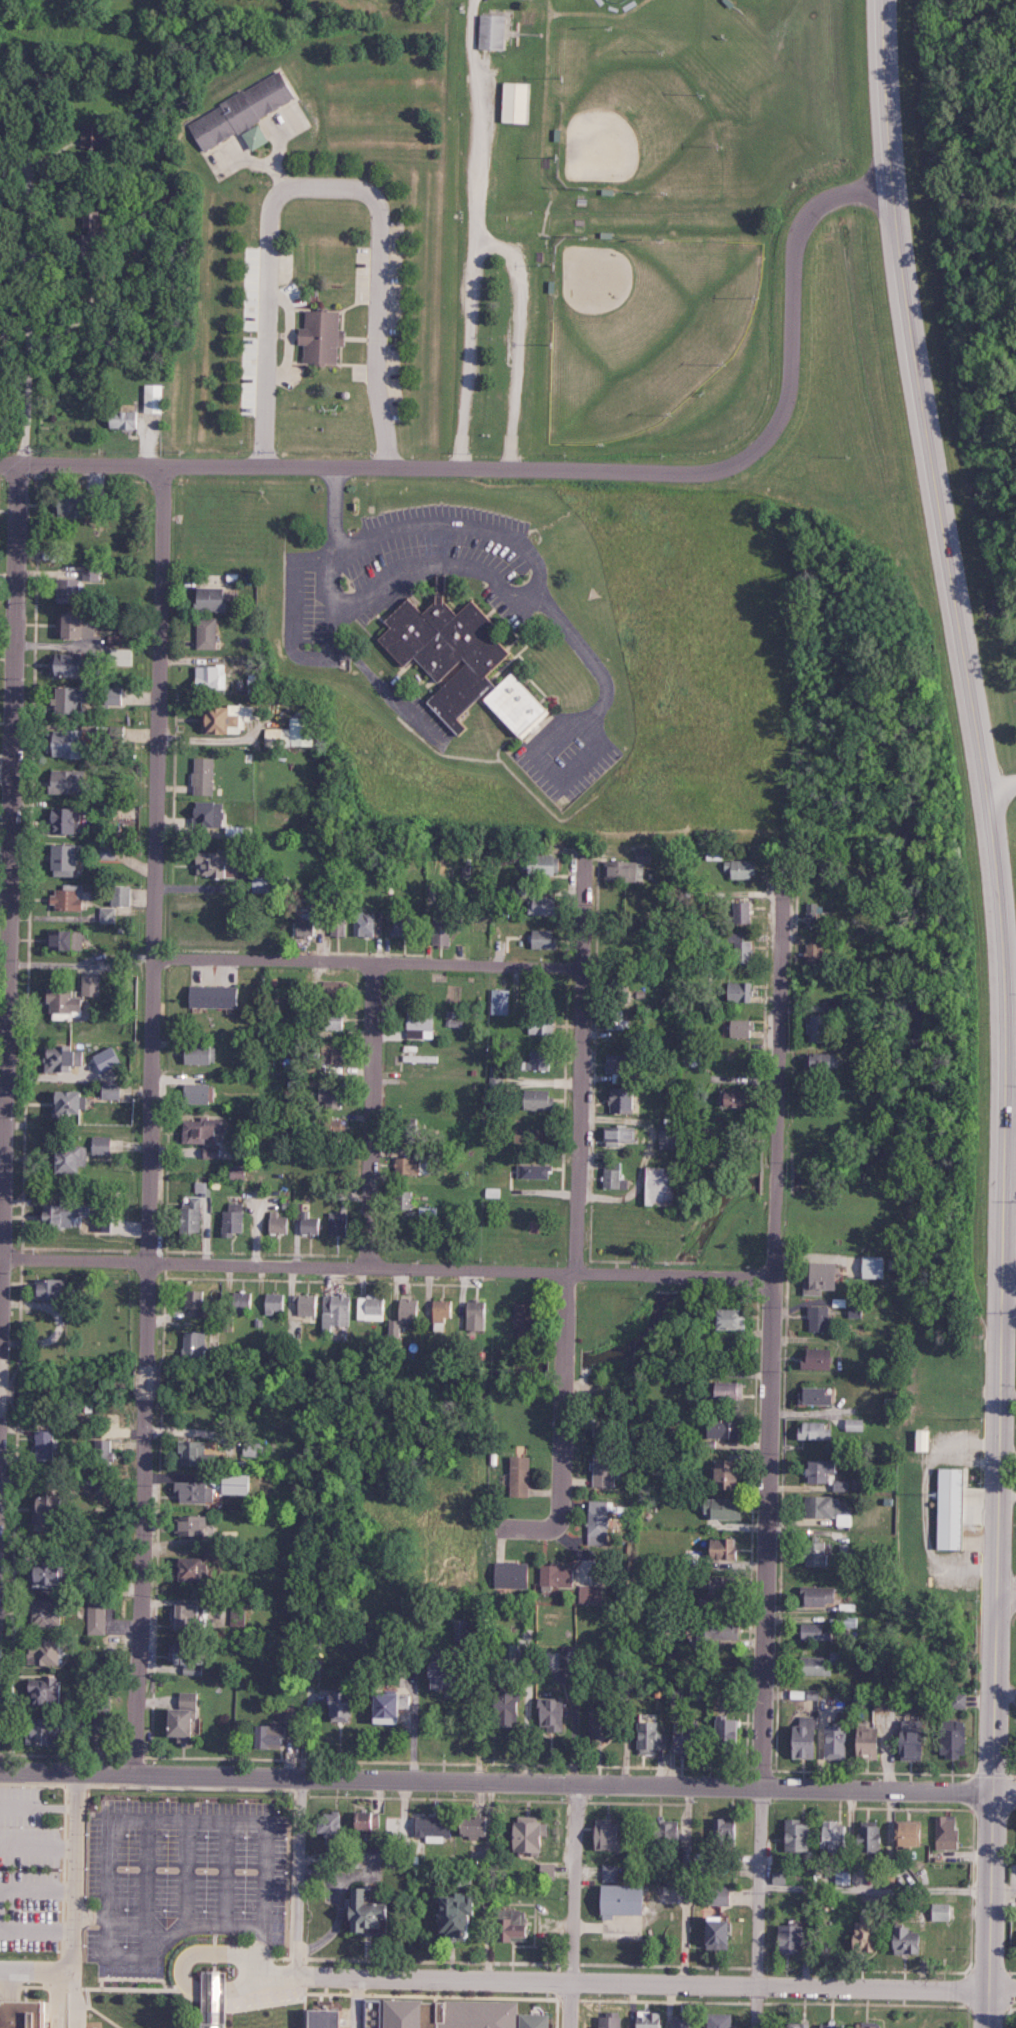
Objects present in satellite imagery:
parking lot: (504, 1)
park: (612, 2)
road: (592, 9)
park: (763, 12)
road: (526, 27)
building: (489, 32)
building: (511, 102)
building: (243, 114)
park: (629, 118)
road: (539, 132)
building: (96, 135)
road: (324, 186)
park: (610, 210)
building: (93, 221)
road: (546, 231)
road: (473, 234)
parking lot: (467, 256)
park: (641, 322)
road: (516, 334)
building: (327, 336)
parking lot: (514, 354)
road: (23, 398)
building: (154, 398)
building: (125, 420)
road: (550, 471)
building: (84, 504)
building: (93, 574)
building: (70, 590)
road: (541, 596)
building: (217, 598)
building: (80, 624)
building: (209, 633)
building: (116, 639)
building: (452, 652)
building: (70, 664)
building: (214, 677)
building: (115, 695)
building: (73, 698)
building: (522, 704)
building: (231, 718)
building: (295, 733)
building: (67, 742)
road: (6, 769)
building: (206, 775)
building: (70, 782)
road: (1001, 789)
building: (211, 814)
building: (63, 820)
building: (107, 852)
building: (69, 860)
road: (11, 861)
building: (213, 863)
building: (549, 865)
building: (627, 869)
building: (739, 869)
building: (267, 884)
building: (123, 895)
building: (70, 897)
building: (546, 905)
building: (738, 912)
building: (109, 914)
building: (811, 915)
building: (441, 917)
road: (558, 917)
building: (366, 924)
building: (310, 925)
building: (339, 927)
building: (404, 927)
building: (67, 939)
building: (546, 939)
building: (739, 951)
building: (811, 952)
road: (355, 961)
building: (93, 985)
building: (621, 985)
building: (736, 991)
building: (216, 996)
building: (66, 1001)
building: (503, 1001)
building: (833, 1006)
road: (1008, 1009)
building: (335, 1020)
building: (617, 1020)
building: (423, 1024)
building: (541, 1024)
building: (736, 1028)
building: (813, 1028)
building: (200, 1054)
building: (336, 1054)
building: (65, 1058)
building: (110, 1059)
building: (540, 1059)
building: (818, 1061)
building: (620, 1067)
building: (497, 1078)
building: (114, 1090)
building: (198, 1093)
building: (332, 1097)
building: (730, 1098)
building: (540, 1099)
building: (625, 1100)
building: (72, 1103)
road: (1011, 1104)
road: (368, 1114)
road: (149, 1116)
building: (204, 1129)
building: (623, 1135)
building: (669, 1136)
building: (103, 1145)
building: (214, 1152)
building: (77, 1159)
building: (410, 1165)
building: (535, 1171)
building: (239, 1172)
building: (612, 1176)
building: (663, 1186)
building: (202, 1188)
building: (404, 1199)
building: (63, 1215)
building: (196, 1217)
building: (105, 1221)
building: (308, 1221)
building: (279, 1222)
building: (338, 1223)
road: (573, 1263)
road: (386, 1266)
building: (871, 1266)
building: (815, 1276)
building: (55, 1289)
road: (1009, 1296)
building: (243, 1300)
building: (276, 1303)
building: (308, 1305)
building: (373, 1307)
building: (443, 1310)
building: (337, 1311)
building: (478, 1315)
building: (815, 1317)
building: (722, 1318)
building: (528, 1321)
building: (195, 1346)
building: (812, 1358)
building: (722, 1390)
building: (810, 1395)
building: (853, 1424)
building: (605, 1427)
building: (718, 1427)
building: (811, 1430)
building: (919, 1439)
building: (46, 1444)
building: (257, 1449)
building: (195, 1452)
road: (769, 1453)
building: (599, 1469)
building: (816, 1469)
building: (719, 1472)
building: (516, 1475)
building: (104, 1484)
building: (239, 1484)
building: (196, 1492)
building: (717, 1507)
building: (946, 1507)
building: (824, 1509)
building: (52, 1510)
building: (596, 1522)
building: (193, 1525)
building: (718, 1548)
building: (812, 1553)
building: (198, 1569)
building: (60, 1574)
building: (508, 1574)
building: (553, 1575)
building: (712, 1582)
road: (1006, 1592)
building: (588, 1593)
building: (814, 1595)
building: (58, 1613)
building: (191, 1617)
building: (847, 1621)
building: (99, 1622)
building: (713, 1626)
building: (811, 1631)
building: (51, 1652)
building: (191, 1656)
building: (565, 1656)
building: (817, 1663)
building: (311, 1666)
building: (433, 1672)
building: (49, 1690)
building: (955, 1698)
building: (400, 1700)
building: (879, 1702)
building: (332, 1704)
building: (499, 1705)
building: (378, 1707)
building: (547, 1713)
building: (189, 1717)
building: (95, 1722)
building: (597, 1730)
building: (720, 1730)
building: (56, 1732)
building: (264, 1735)
building: (646, 1737)
building: (680, 1737)
building: (948, 1737)
building: (800, 1738)
building: (863, 1740)
building: (905, 1740)
building: (831, 1741)
road: (508, 1776)
building: (322, 1823)
building: (470, 1826)
building: (429, 1827)
building: (719, 1830)
building: (661, 1831)
building: (942, 1832)
building: (598, 1833)
building: (903, 1833)
building: (524, 1834)
building: (794, 1835)
building: (831, 1835)
building: (864, 1838)
building: (363, 1854)
road: (72, 1868)
parking lot: (182, 1869)
building: (544, 1871)
road: (295, 1874)
building: (776, 1877)
building: (842, 1877)
building: (713, 1895)
building: (615, 1900)
road: (572, 1902)
building: (358, 1910)
building: (939, 1911)
building: (447, 1912)
building: (505, 1924)
building: (710, 1932)
building: (858, 1936)
building: (784, 1938)
building: (900, 1940)
building: (1015, 1943)
road: (190, 1953)
road: (34, 1968)
road: (258, 1976)
road: (654, 1981)
building: (208, 2002)
building: (438, 2013)
building: (21, 2014)
building: (317, 2018)
building: (643, 2019)
building: (605, 2020)
building: (717, 2020)
building: (677, 2021)
building: (794, 2025)
building: (823, 2025)
building: (862, 2025)

